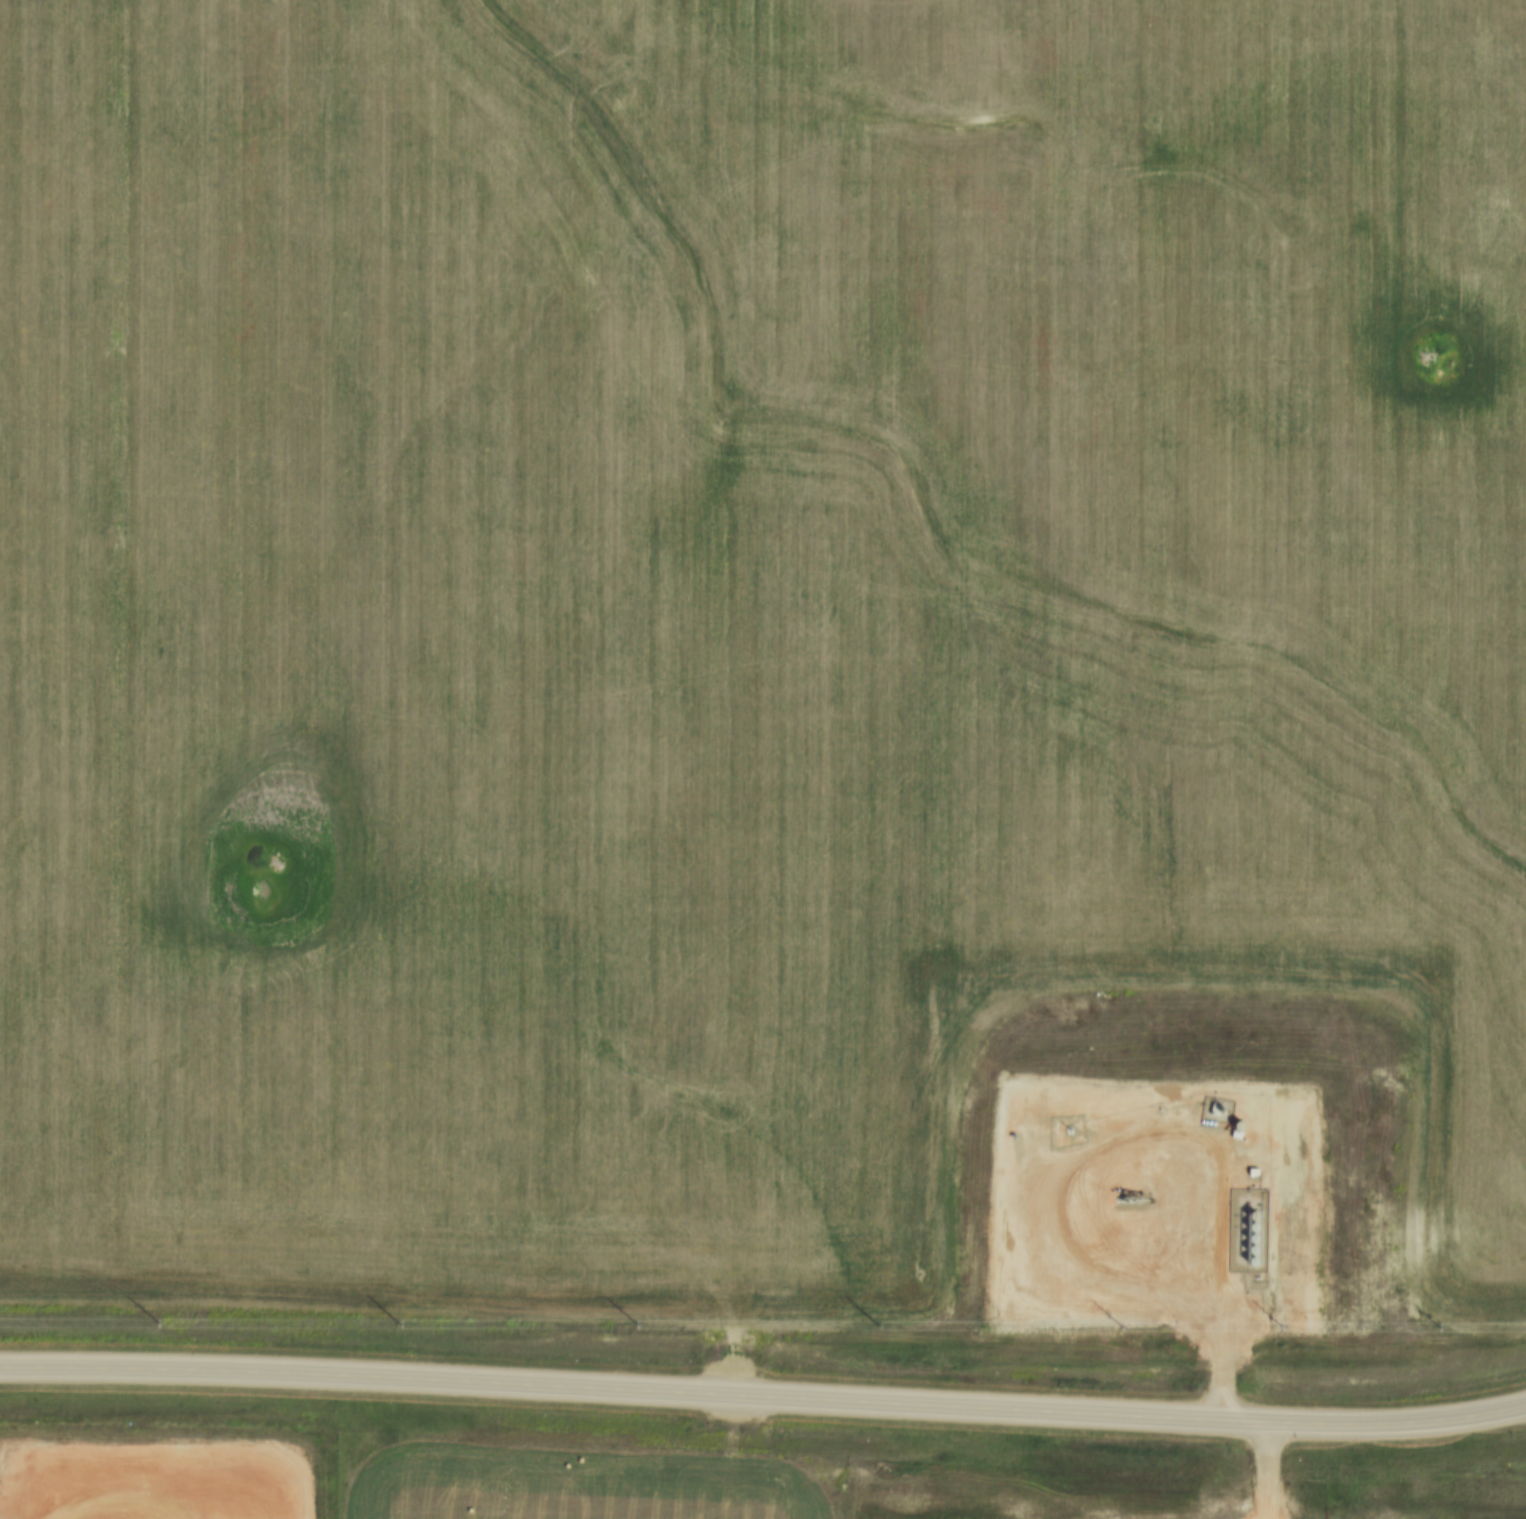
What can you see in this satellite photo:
building: (1214, 1109)
road: (1124, 1142)
building: (1249, 1172)
petroleum well: (1128, 1196)
building: (1007, 1210)
building: (1457, 1378)
road: (763, 1404)
road: (1265, 1469)
road: (117, 1494)

